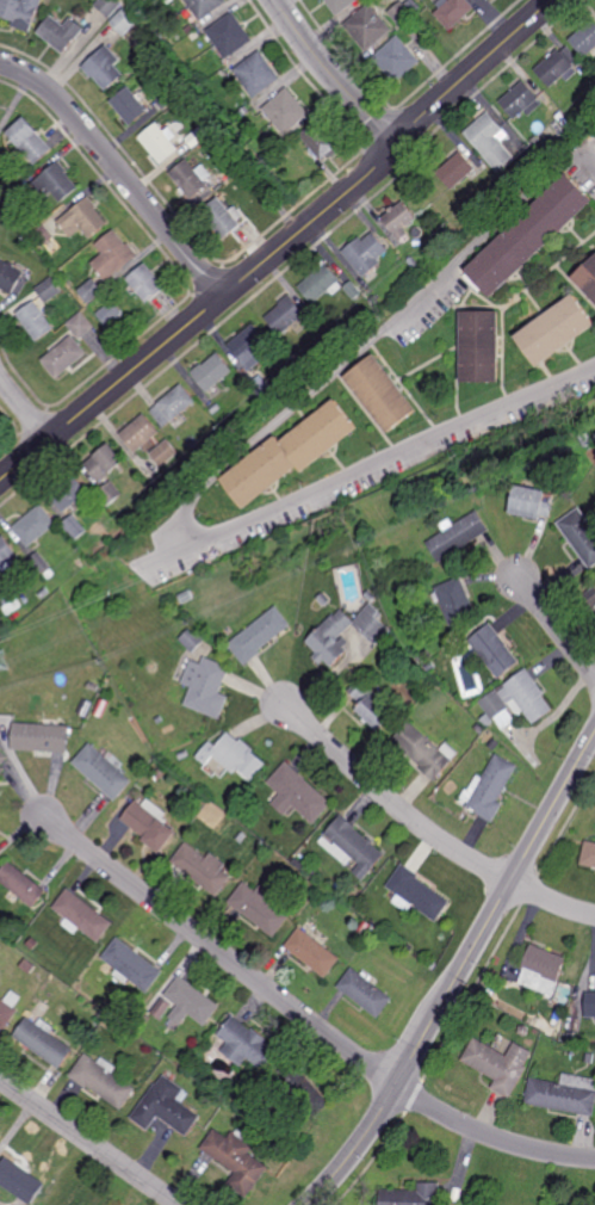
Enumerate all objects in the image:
building: (408, 1)
building: (339, 5)
building: (109, 6)
building: (204, 7)
building: (20, 11)
building: (452, 13)
building: (399, 14)
building: (124, 21)
building: (416, 25)
building: (366, 26)
building: (151, 27)
building: (187, 29)
building: (61, 32)
building: (423, 32)
building: (229, 35)
building: (584, 38)
building: (160, 39)
building: (396, 58)
building: (557, 66)
building: (104, 67)
building: (256, 74)
road: (333, 74)
building: (167, 99)
building: (521, 100)
building: (129, 105)
building: (223, 105)
building: (286, 111)
building: (196, 137)
building: (490, 140)
building: (30, 141)
building: (318, 141)
building: (160, 142)
building: (225, 143)
building: (281, 143)
building: (547, 144)
building: (234, 165)
road: (119, 169)
building: (457, 171)
building: (250, 172)
building: (191, 178)
building: (57, 183)
building: (495, 191)
building: (222, 217)
building: (83, 218)
building: (399, 221)
building: (43, 235)
building: (529, 237)
road: (281, 247)
building: (366, 253)
building: (112, 255)
building: (413, 261)
building: (10, 277)
building: (587, 279)
building: (145, 283)
building: (321, 283)
building: (49, 290)
building: (352, 290)
building: (89, 291)
building: (374, 301)
building: (109, 314)
building: (285, 315)
building: (36, 320)
building: (80, 326)
building: (557, 332)
building: (248, 347)
building: (482, 348)
building: (64, 357)
building: (211, 372)
building: (261, 389)
building: (382, 395)
road: (26, 407)
building: (173, 407)
building: (215, 408)
building: (140, 433)
building: (221, 437)
building: (585, 441)
building: (163, 452)
building: (290, 453)
building: (103, 463)
road: (209, 476)
building: (159, 489)
building: (68, 492)
building: (109, 493)
building: (529, 501)
building: (35, 524)
building: (73, 526)
building: (579, 533)
building: (457, 534)
building: (97, 546)
building: (6, 554)
building: (41, 561)
building: (49, 573)
building: (42, 593)
building: (370, 595)
building: (8, 599)
building: (590, 599)
building: (323, 600)
building: (455, 600)
road: (557, 628)
building: (328, 632)
building: (259, 635)
building: (192, 638)
building: (494, 650)
building: (424, 656)
building: (429, 667)
building: (92, 686)
building: (206, 686)
building: (516, 698)
building: (371, 703)
building: (159, 719)
building: (479, 728)
building: (41, 736)
building: (486, 737)
building: (494, 744)
building: (424, 750)
building: (184, 755)
building: (231, 756)
building: (2, 761)
building: (103, 771)
building: (160, 773)
building: (490, 789)
building: (298, 792)
road: (390, 799)
building: (148, 824)
building: (241, 836)
building: (352, 846)
building: (588, 854)
building: (297, 863)
building: (200, 867)
building: (20, 883)
building: (416, 894)
road: (551, 901)
building: (258, 907)
building: (80, 915)
building: (364, 925)
building: (32, 943)
building: (410, 947)
building: (312, 952)
road: (222, 953)
building: (129, 965)
building: (29, 966)
building: (541, 968)
road: (460, 974)
building: (365, 991)
building: (186, 1002)
building: (590, 1006)
building: (8, 1008)
building: (101, 1015)
building: (144, 1019)
building: (109, 1020)
building: (572, 1026)
building: (523, 1031)
building: (140, 1040)
building: (43, 1042)
building: (247, 1045)
building: (589, 1058)
building: (500, 1065)
building: (101, 1080)
building: (304, 1092)
building: (560, 1098)
building: (217, 1100)
building: (240, 1100)
building: (166, 1107)
building: (1, 1133)
road: (491, 1135)
road: (89, 1142)
building: (236, 1160)
building: (20, 1181)
building: (414, 1195)
building: (80, 1197)

